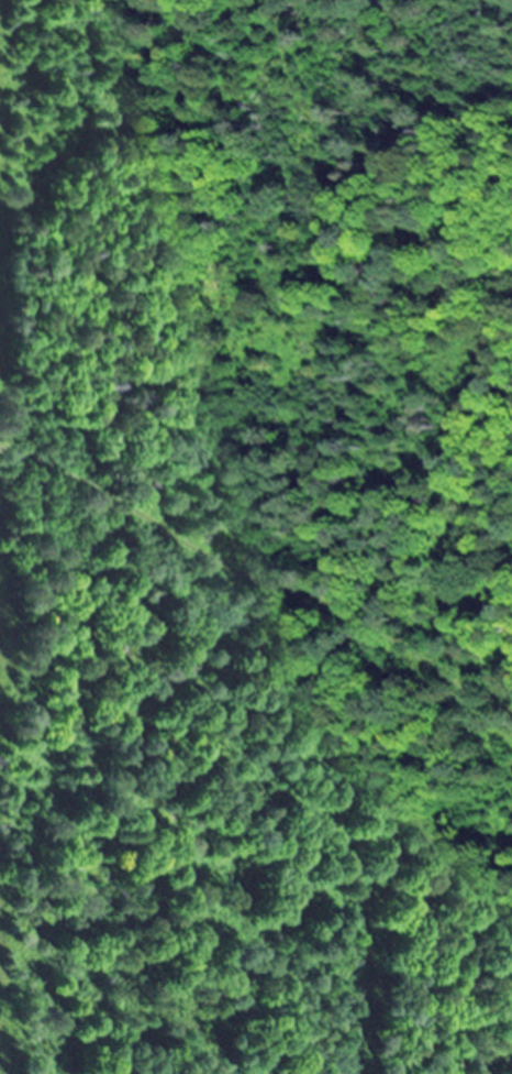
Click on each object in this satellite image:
road: (255, 581)

